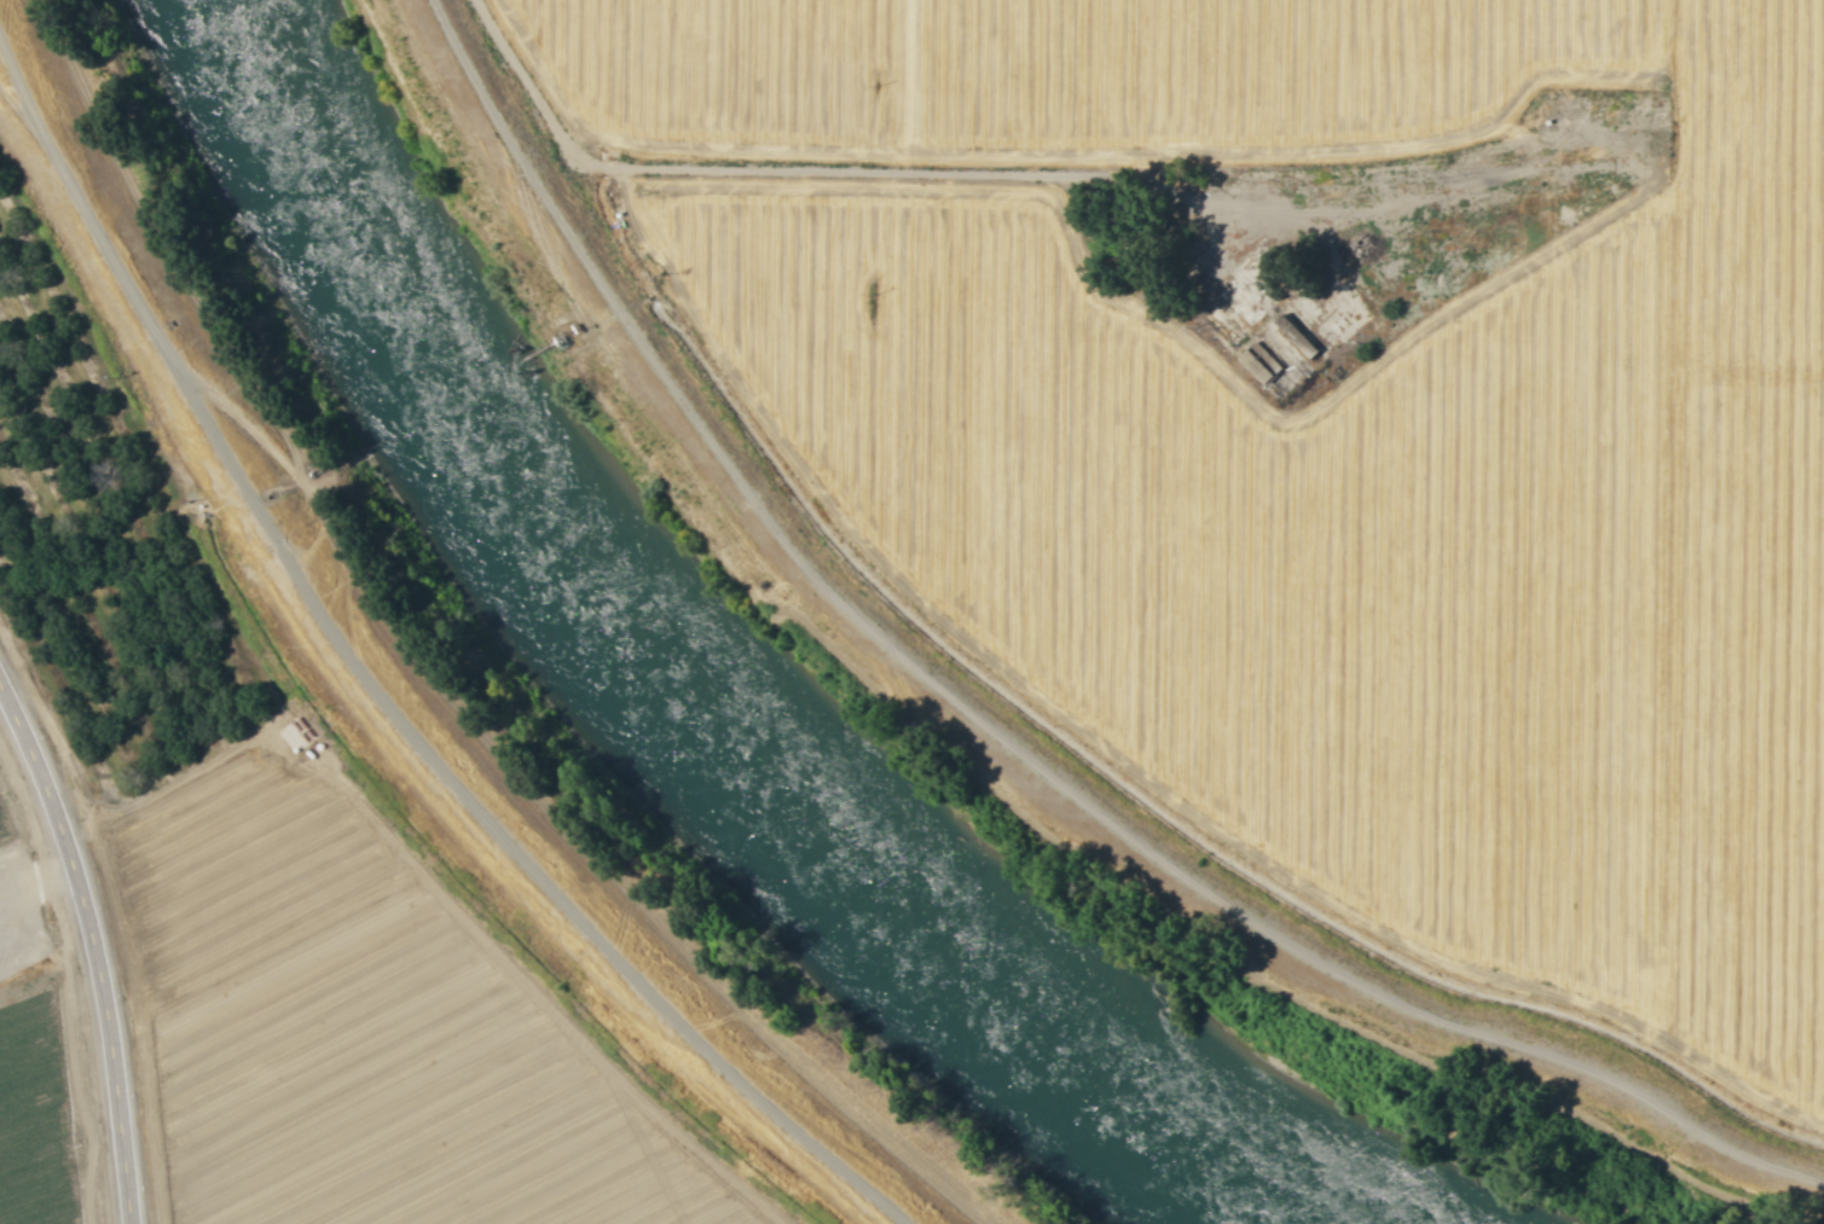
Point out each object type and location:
road: (1696, 167)
building: (1262, 361)
road: (376, 686)
river: (696, 698)
road: (1004, 738)
road: (92, 949)

